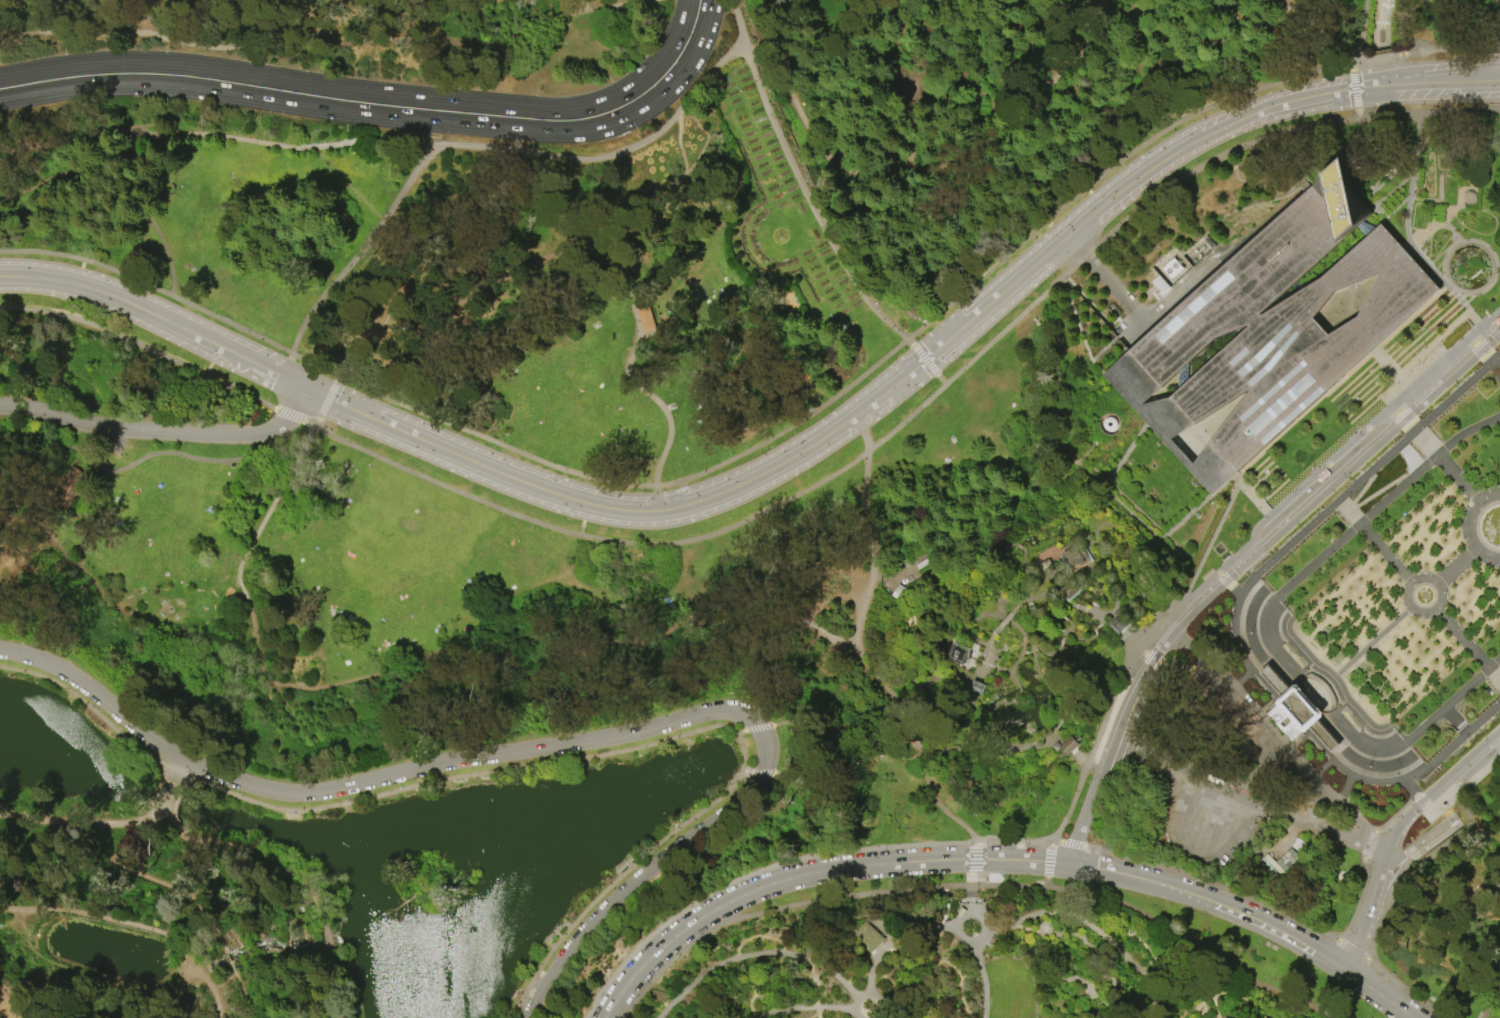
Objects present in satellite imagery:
road: (1405, 19)
road: (1381, 25)
road: (1310, 26)
road: (678, 27)
road: (1360, 32)
road: (703, 36)
road: (307, 39)
road: (1399, 41)
road: (1425, 51)
road: (1352, 67)
road: (340, 87)
road: (1354, 89)
road: (1266, 110)
road: (352, 113)
road: (913, 114)
road: (1357, 114)
road: (219, 134)
road: (1281, 134)
road: (632, 143)
road: (946, 154)
road: (1442, 175)
road: (1093, 198)
parking lot: (1390, 199)
road: (810, 200)
road: (1457, 206)
road: (627, 208)
road: (145, 212)
road: (392, 221)
road: (1453, 231)
road: (354, 256)
road: (1083, 256)
road: (1428, 265)
road: (80, 272)
road: (1481, 290)
road: (1348, 304)
road: (142, 310)
road: (1135, 311)
building: (645, 318)
road: (1475, 319)
road: (1484, 323)
road: (391, 326)
building: (1272, 329)
road: (910, 341)
road: (139, 344)
road: (1480, 349)
road: (924, 359)
road: (211, 361)
road: (971, 361)
road: (1496, 366)
road: (1391, 369)
road: (1430, 371)
road: (942, 379)
road: (290, 381)
road: (1341, 382)
road: (652, 397)
road: (327, 401)
road: (1395, 409)
road: (293, 417)
road: (1115, 417)
road: (1403, 418)
road: (1112, 420)
road: (1185, 423)
road: (1411, 426)
road: (161, 431)
road: (403, 432)
road: (862, 433)
road: (1373, 435)
road: (1099, 438)
road: (1134, 439)
road: (56, 442)
street lamp: (184, 445)
road: (813, 445)
road: (1393, 448)
road: (187, 457)
road: (1410, 460)
road: (1077, 461)
road: (1329, 461)
road: (714, 467)
road: (1333, 471)
road: (1099, 475)
road: (1460, 481)
building: (70, 487)
road: (683, 492)
road: (1124, 498)
road: (1311, 502)
road: (1357, 502)
road: (1197, 506)
road: (264, 509)
park: (750, 509)
road: (1347, 509)
road: (1222, 515)
road: (864, 518)
road: (583, 520)
road: (1356, 521)
road: (1101, 524)
road: (1145, 524)
road: (1471, 526)
fountain: (1499, 526)
road: (590, 537)
road: (1108, 542)
road: (1384, 551)
building: (1070, 554)
road: (1051, 564)
road: (1142, 564)
road: (1457, 564)
road: (999, 567)
road: (904, 568)
road: (1128, 568)
road: (1114, 569)
road: (1078, 572)
road: (1218, 574)
road: (1050, 579)
road: (1225, 580)
building: (1066, 586)
building: (897, 591)
road: (1235, 591)
fountain: (1422, 595)
road: (1008, 600)
road: (1025, 600)
road: (1052, 601)
road: (1346, 601)
road: (1067, 605)
road: (1437, 606)
park: (1383, 609)
road: (920, 613)
road: (974, 617)
road: (1003, 620)
road: (1113, 624)
road: (1116, 625)
building: (1117, 625)
toll booth: (1117, 626)
road: (1376, 627)
road: (952, 629)
road: (1269, 629)
road: (1234, 631)
flagpole: (1251, 633)
road: (516, 636)
road: (1293, 636)
road: (1462, 637)
road: (1089, 638)
road: (1061, 639)
road: (1132, 641)
road: (987, 642)
road: (1218, 651)
road: (1364, 651)
building: (958, 653)
road: (1307, 658)
road: (1153, 659)
road: (983, 663)
road: (989, 665)
road: (1186, 667)
road: (1332, 667)
road: (951, 670)
road: (1005, 671)
road: (1344, 677)
road: (1499, 679)
road: (1239, 681)
road: (1014, 682)
building: (976, 687)
road: (1396, 689)
road: (1142, 699)
road: (859, 701)
road: (1124, 711)
building: (1296, 711)
road: (1058, 714)
road: (901, 715)
road: (970, 717)
road: (1454, 717)
road: (760, 727)
road: (741, 731)
road: (1309, 736)
road: (802, 744)
building: (1071, 744)
road: (1277, 744)
road: (559, 745)
road: (926, 749)
road: (1116, 758)
road: (1258, 758)
road: (1084, 765)
road: (539, 767)
flagpole: (1369, 767)
parking lot: (1468, 767)
road: (176, 768)
road: (746, 772)
road: (762, 773)
road: (1213, 775)
road: (1412, 776)
road: (1458, 779)
road: (1465, 784)
road: (1410, 788)
road: (1436, 788)
road: (1345, 790)
road: (1229, 794)
road: (1246, 801)
road: (1089, 802)
road: (1274, 802)
road: (164, 803)
road: (1423, 803)
road: (1270, 812)
road: (1396, 813)
road: (1358, 815)
road: (1216, 816)
parking lot: (1204, 819)
road: (78, 822)
road: (1183, 829)
road: (1434, 836)
road: (1055, 838)
road: (1198, 839)
road: (1050, 841)
road: (1218, 841)
road: (983, 843)
road: (1071, 844)
road: (1369, 845)
road: (1185, 851)
road: (1275, 851)
road: (238, 854)
road: (1398, 857)
road: (972, 858)
road: (1049, 861)
road: (808, 874)
road: (1126, 876)
road: (1046, 883)
road: (1214, 884)
road: (1391, 887)
road: (179, 894)
road: (970, 894)
road: (848, 895)
road: (1201, 898)
road: (1358, 901)
building: (960, 911)
road: (1102, 913)
road: (1368, 913)
road: (267, 916)
road: (104, 918)
road: (1081, 922)
road: (1379, 925)
road: (956, 926)
road: (1021, 931)
road: (1042, 931)
road: (554, 932)
road: (1282, 932)
road: (1040, 934)
road: (558, 935)
road: (1049, 936)
building: (868, 937)
road: (893, 937)
road: (1159, 938)
road: (287, 946)
road: (1353, 951)
road: (222, 952)
road: (755, 953)
road: (780, 955)
road: (226, 958)
road: (332, 959)
road: (1147, 967)
road: (1218, 968)
road: (234, 971)
road: (543, 975)
road: (924, 978)
road: (980, 979)
road: (714, 980)
road: (1179, 982)
road: (779, 984)
road: (225, 987)
road: (729, 987)
road: (957, 988)
road: (185, 989)
road: (814, 989)
road: (209, 991)
road: (902, 992)
road: (1376, 994)
road: (531, 995)
road: (1182, 995)
road: (867, 996)
road: (1199, 996)
road: (247, 999)
road: (730, 999)
road: (1176, 999)
road: (749, 1000)
road: (1490, 1001)
road: (1107, 1002)
road: (1139, 1002)
road: (702, 1003)
road: (1173, 1004)
road: (1210, 1006)
road: (802, 1008)
road: (1148, 1008)
road: (1199, 1010)
road: (1169, 1011)
road: (812, 1015)
road: (2, 1016)
road: (881, 1017)

